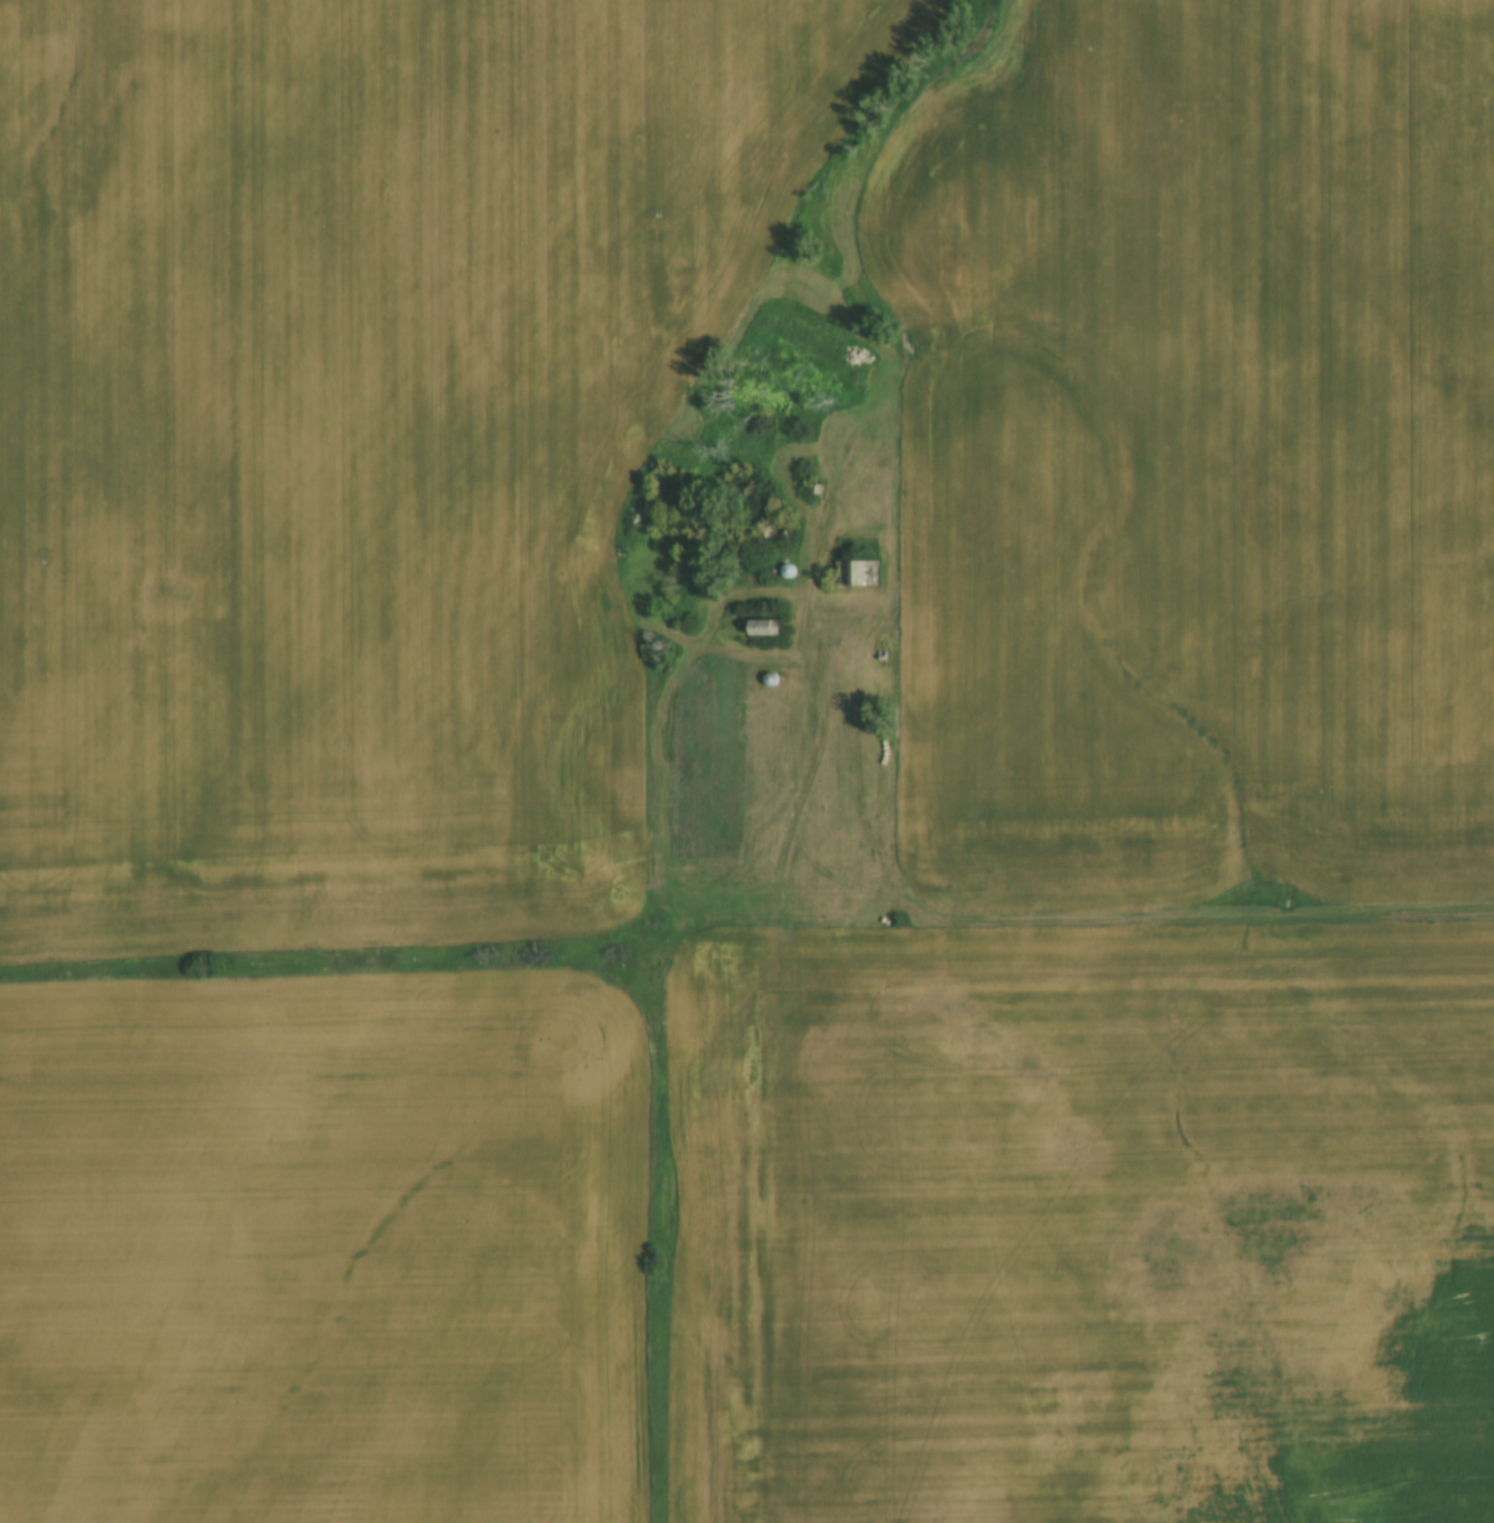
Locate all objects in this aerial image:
building: (857, 573)
building: (765, 628)
road: (1137, 922)
road: (786, 1062)

